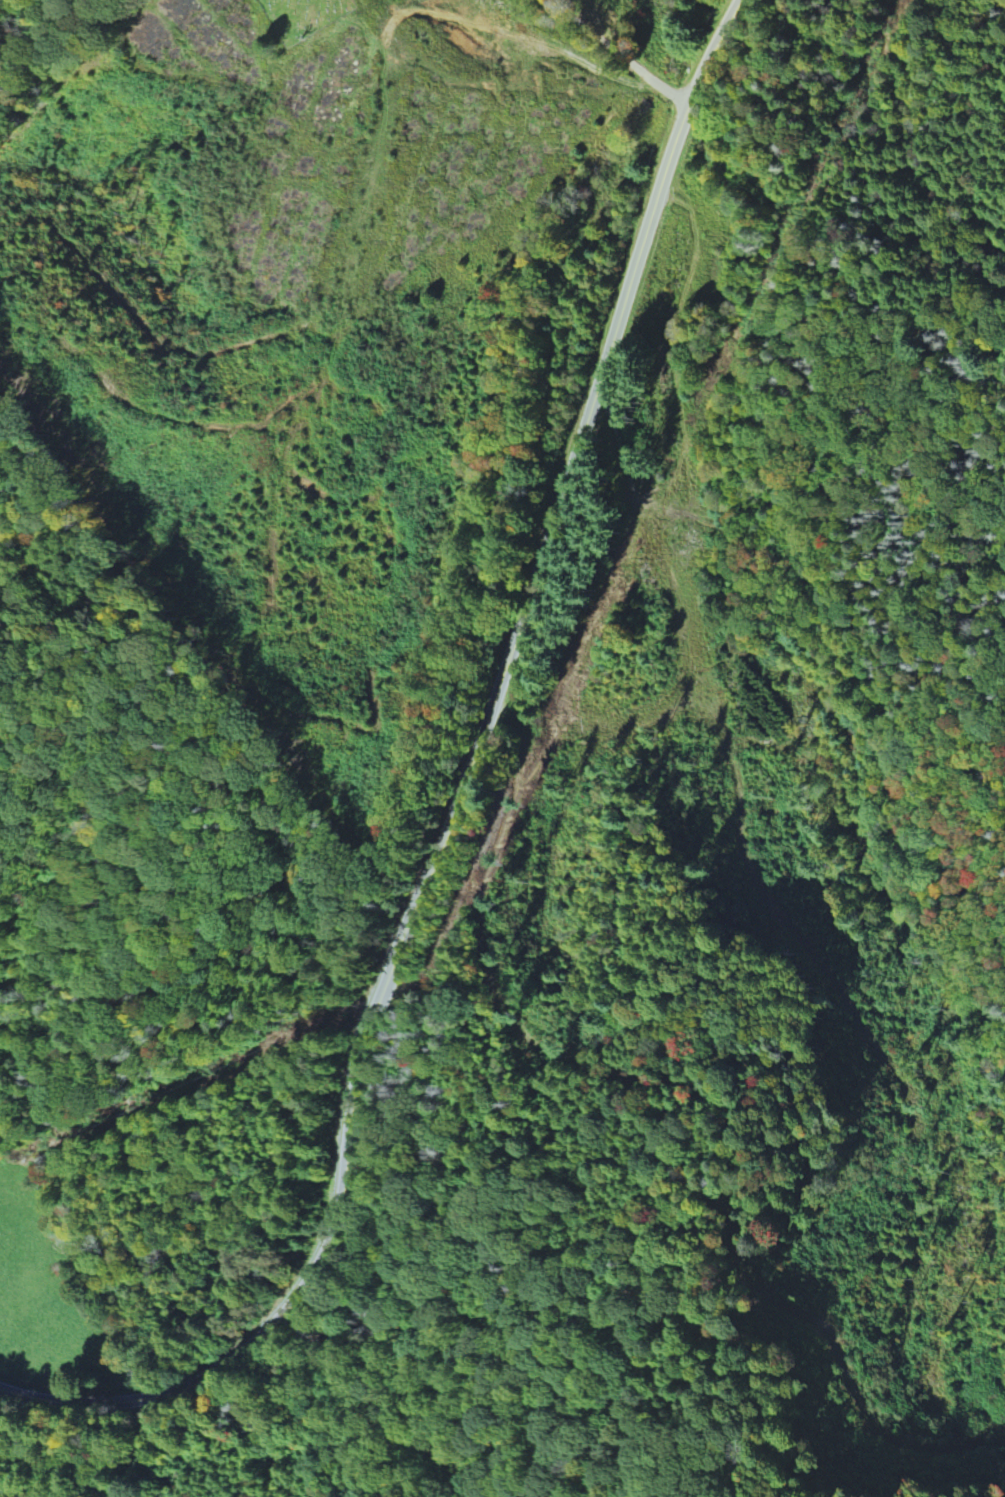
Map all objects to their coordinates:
park: (301, 15)
road: (616, 52)
road: (451, 802)
road: (142, 1449)

